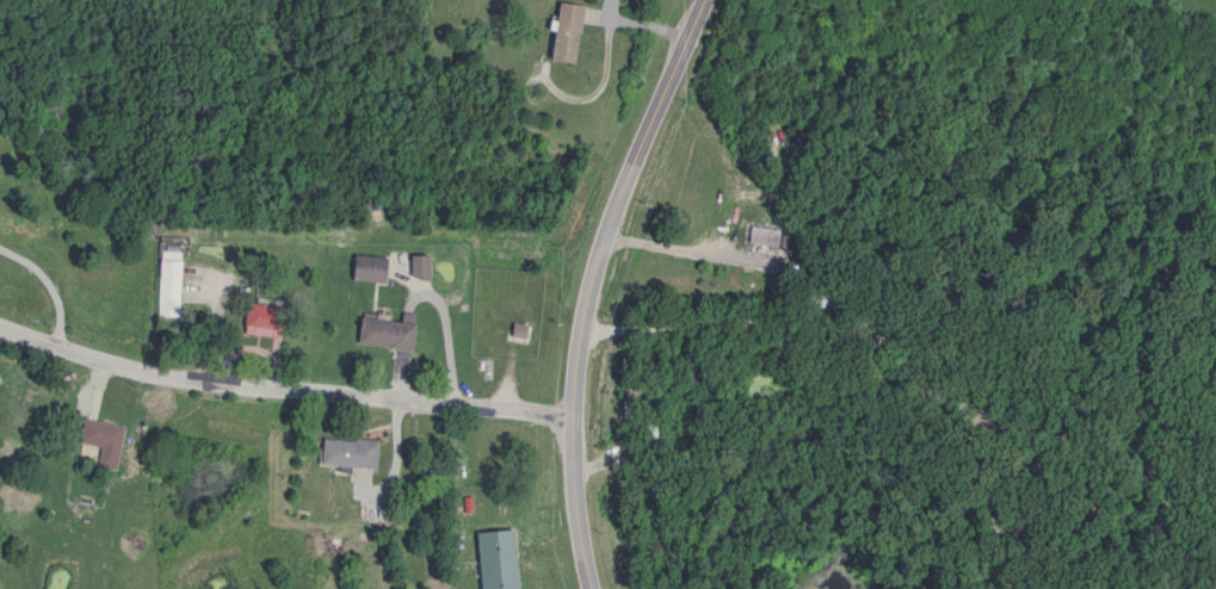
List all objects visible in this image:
building: (560, 32)
building: (759, 237)
road: (691, 247)
building: (414, 267)
building: (364, 268)
building: (165, 283)
road: (45, 285)
road: (592, 285)
building: (254, 320)
building: (382, 333)
road: (905, 366)
road: (280, 393)
building: (95, 435)
building: (341, 453)
building: (473, 508)

